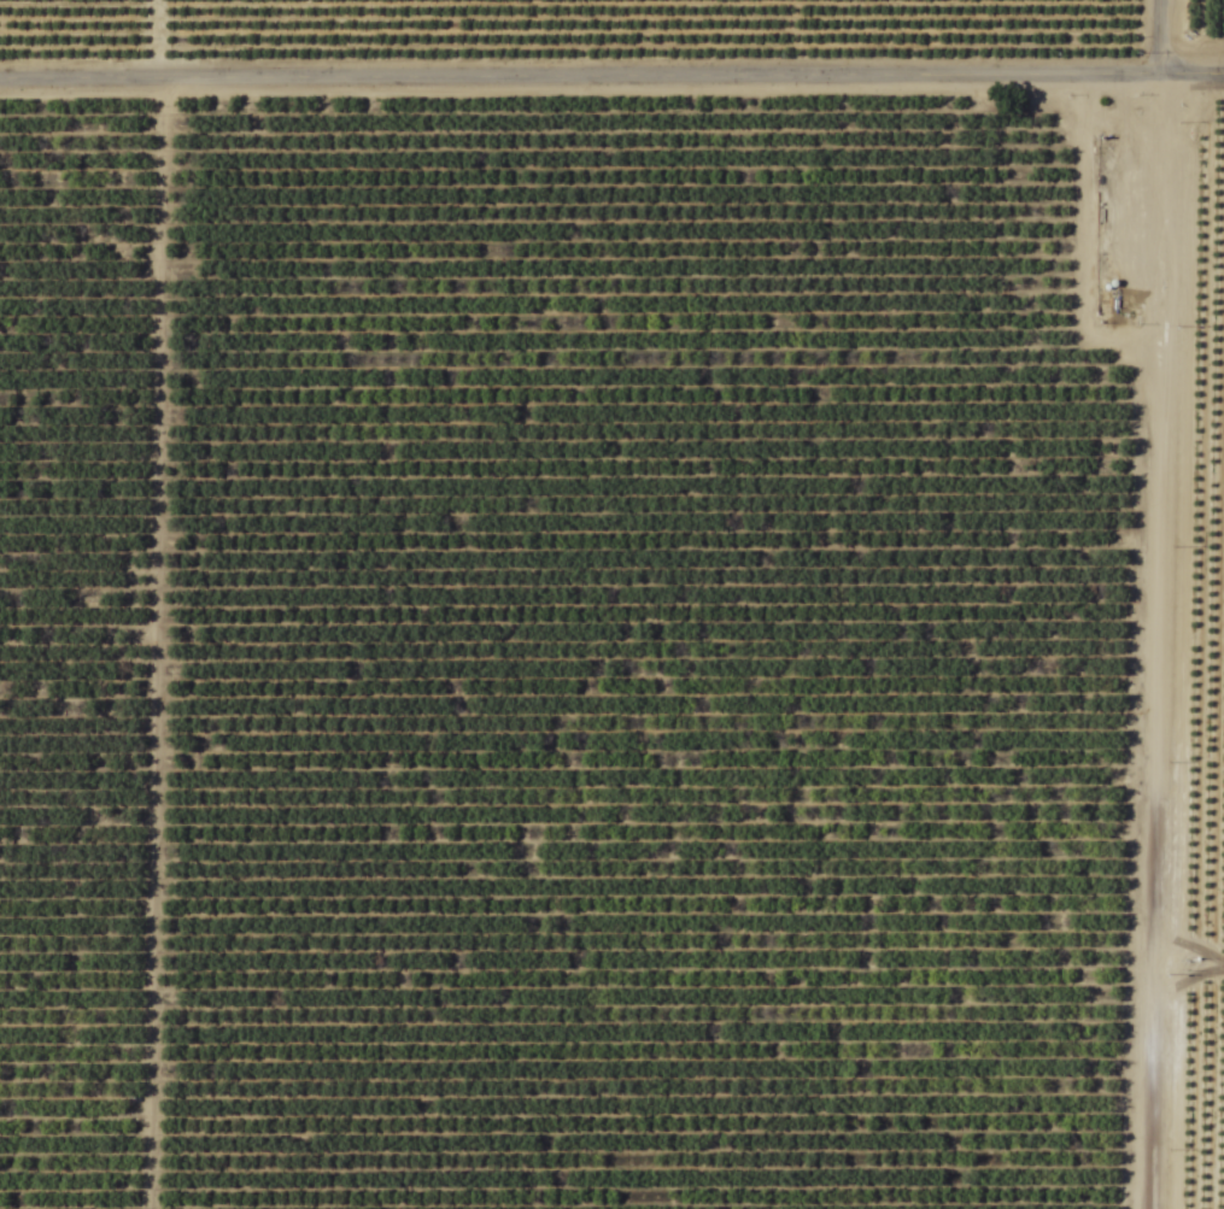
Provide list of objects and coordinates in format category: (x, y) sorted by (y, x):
road: (1162, 39)
road: (611, 80)
crop: (611, 604)
road: (1132, 644)

